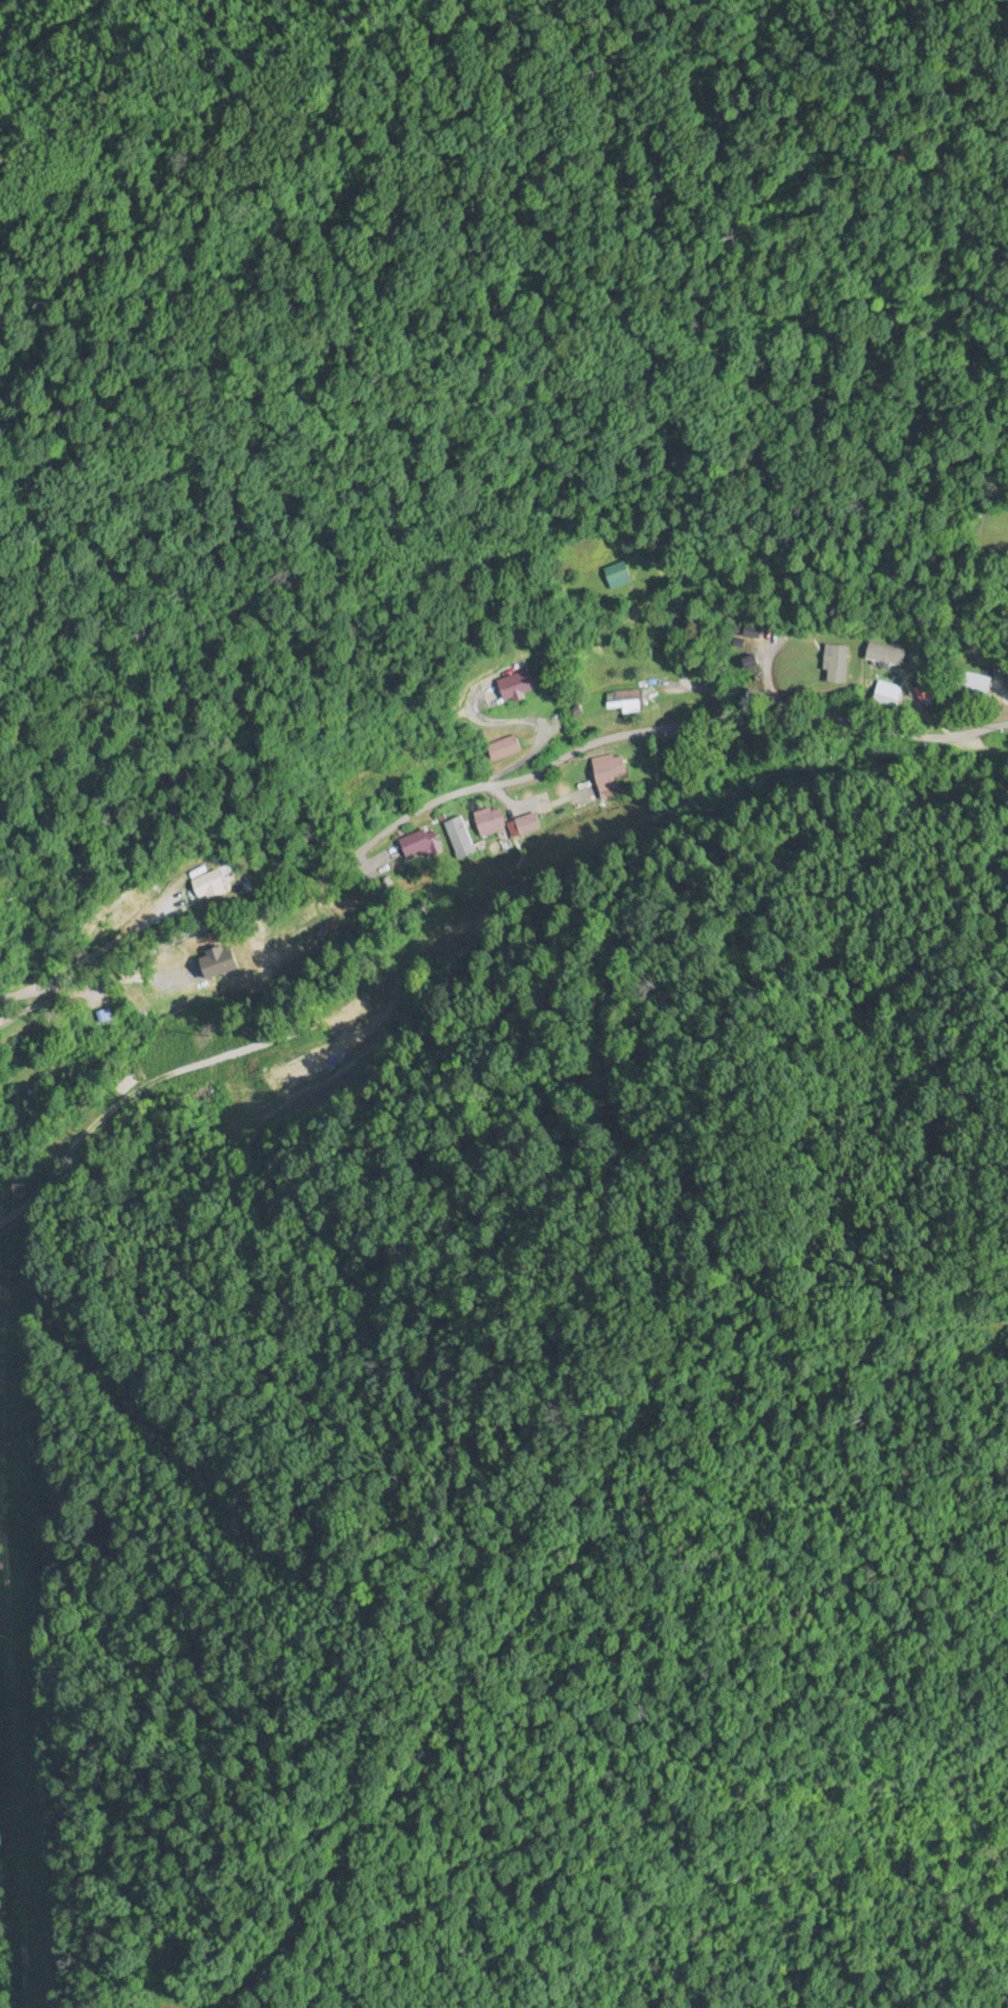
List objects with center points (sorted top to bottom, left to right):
building: (620, 576)
building: (520, 687)
building: (628, 702)
building: (507, 749)
building: (610, 774)
road: (487, 783)
building: (490, 822)
building: (524, 827)
building: (458, 836)
building: (420, 846)
building: (209, 885)
road: (344, 933)
building: (289, 939)
building: (390, 1007)

